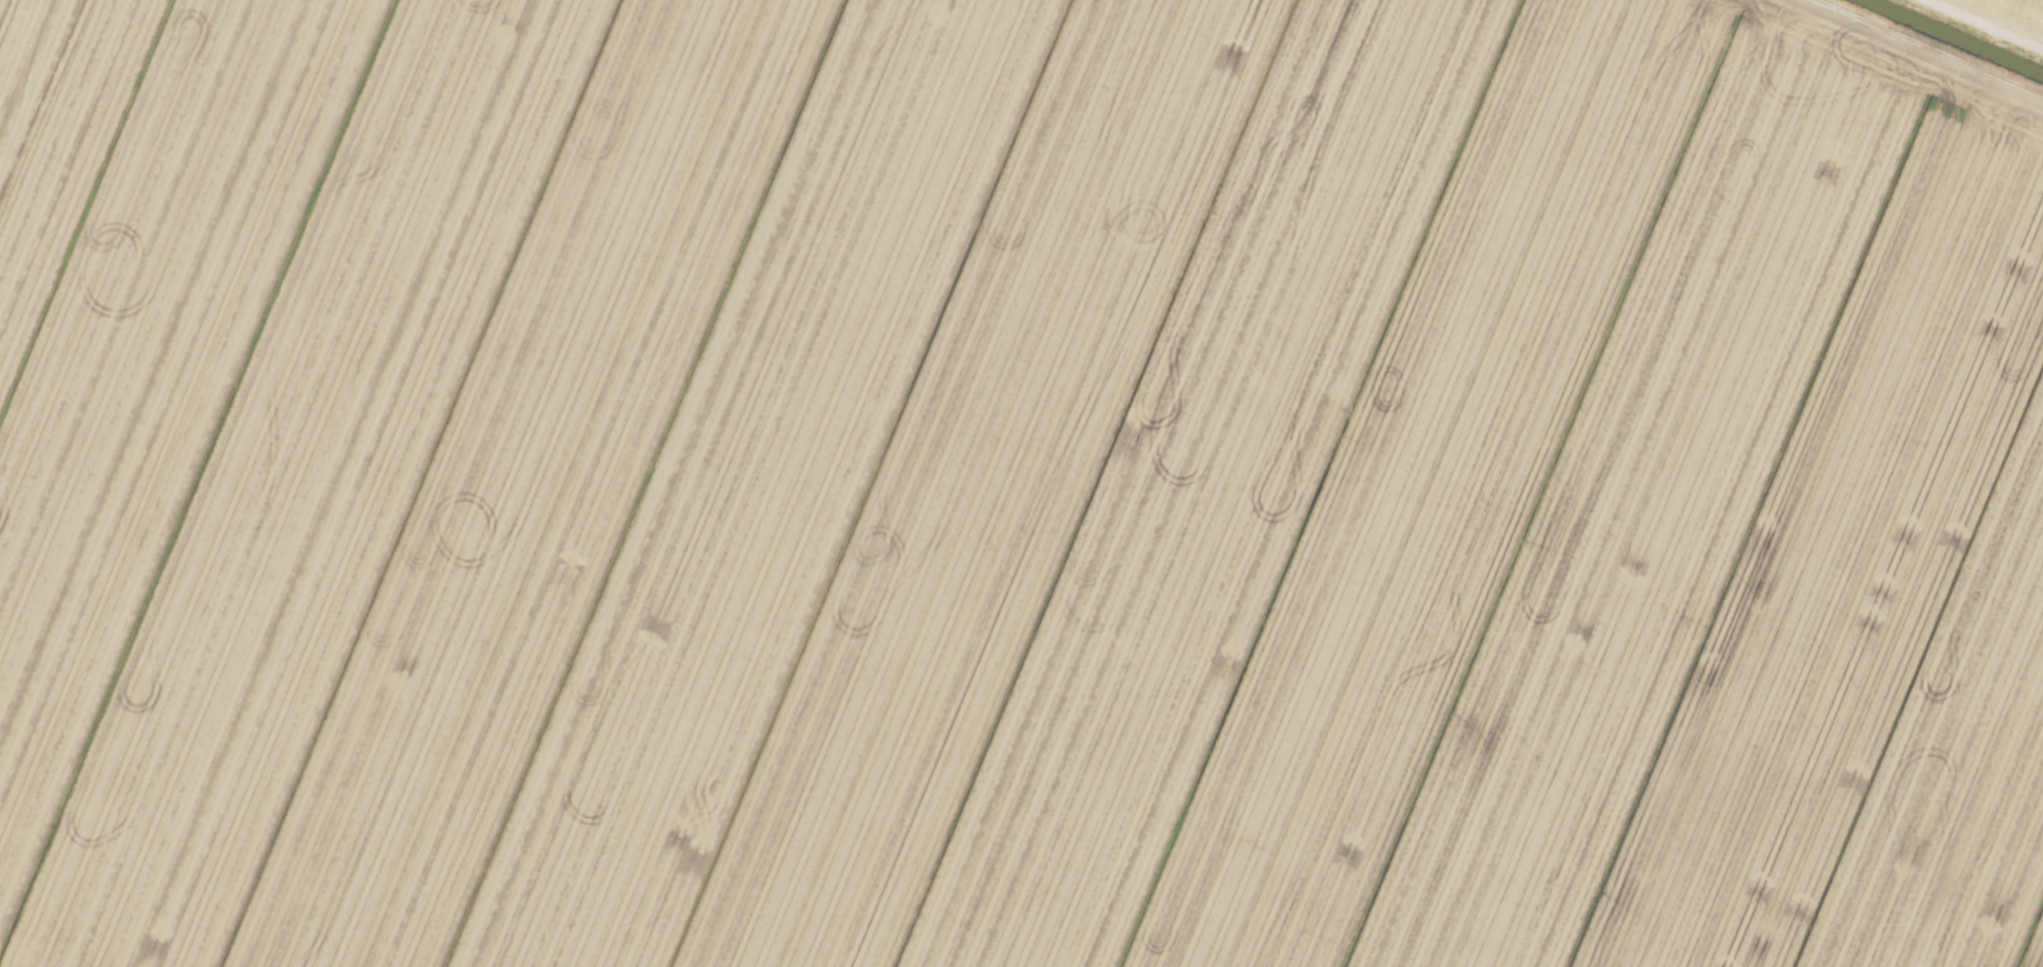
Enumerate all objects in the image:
crop: (1021, 483)

